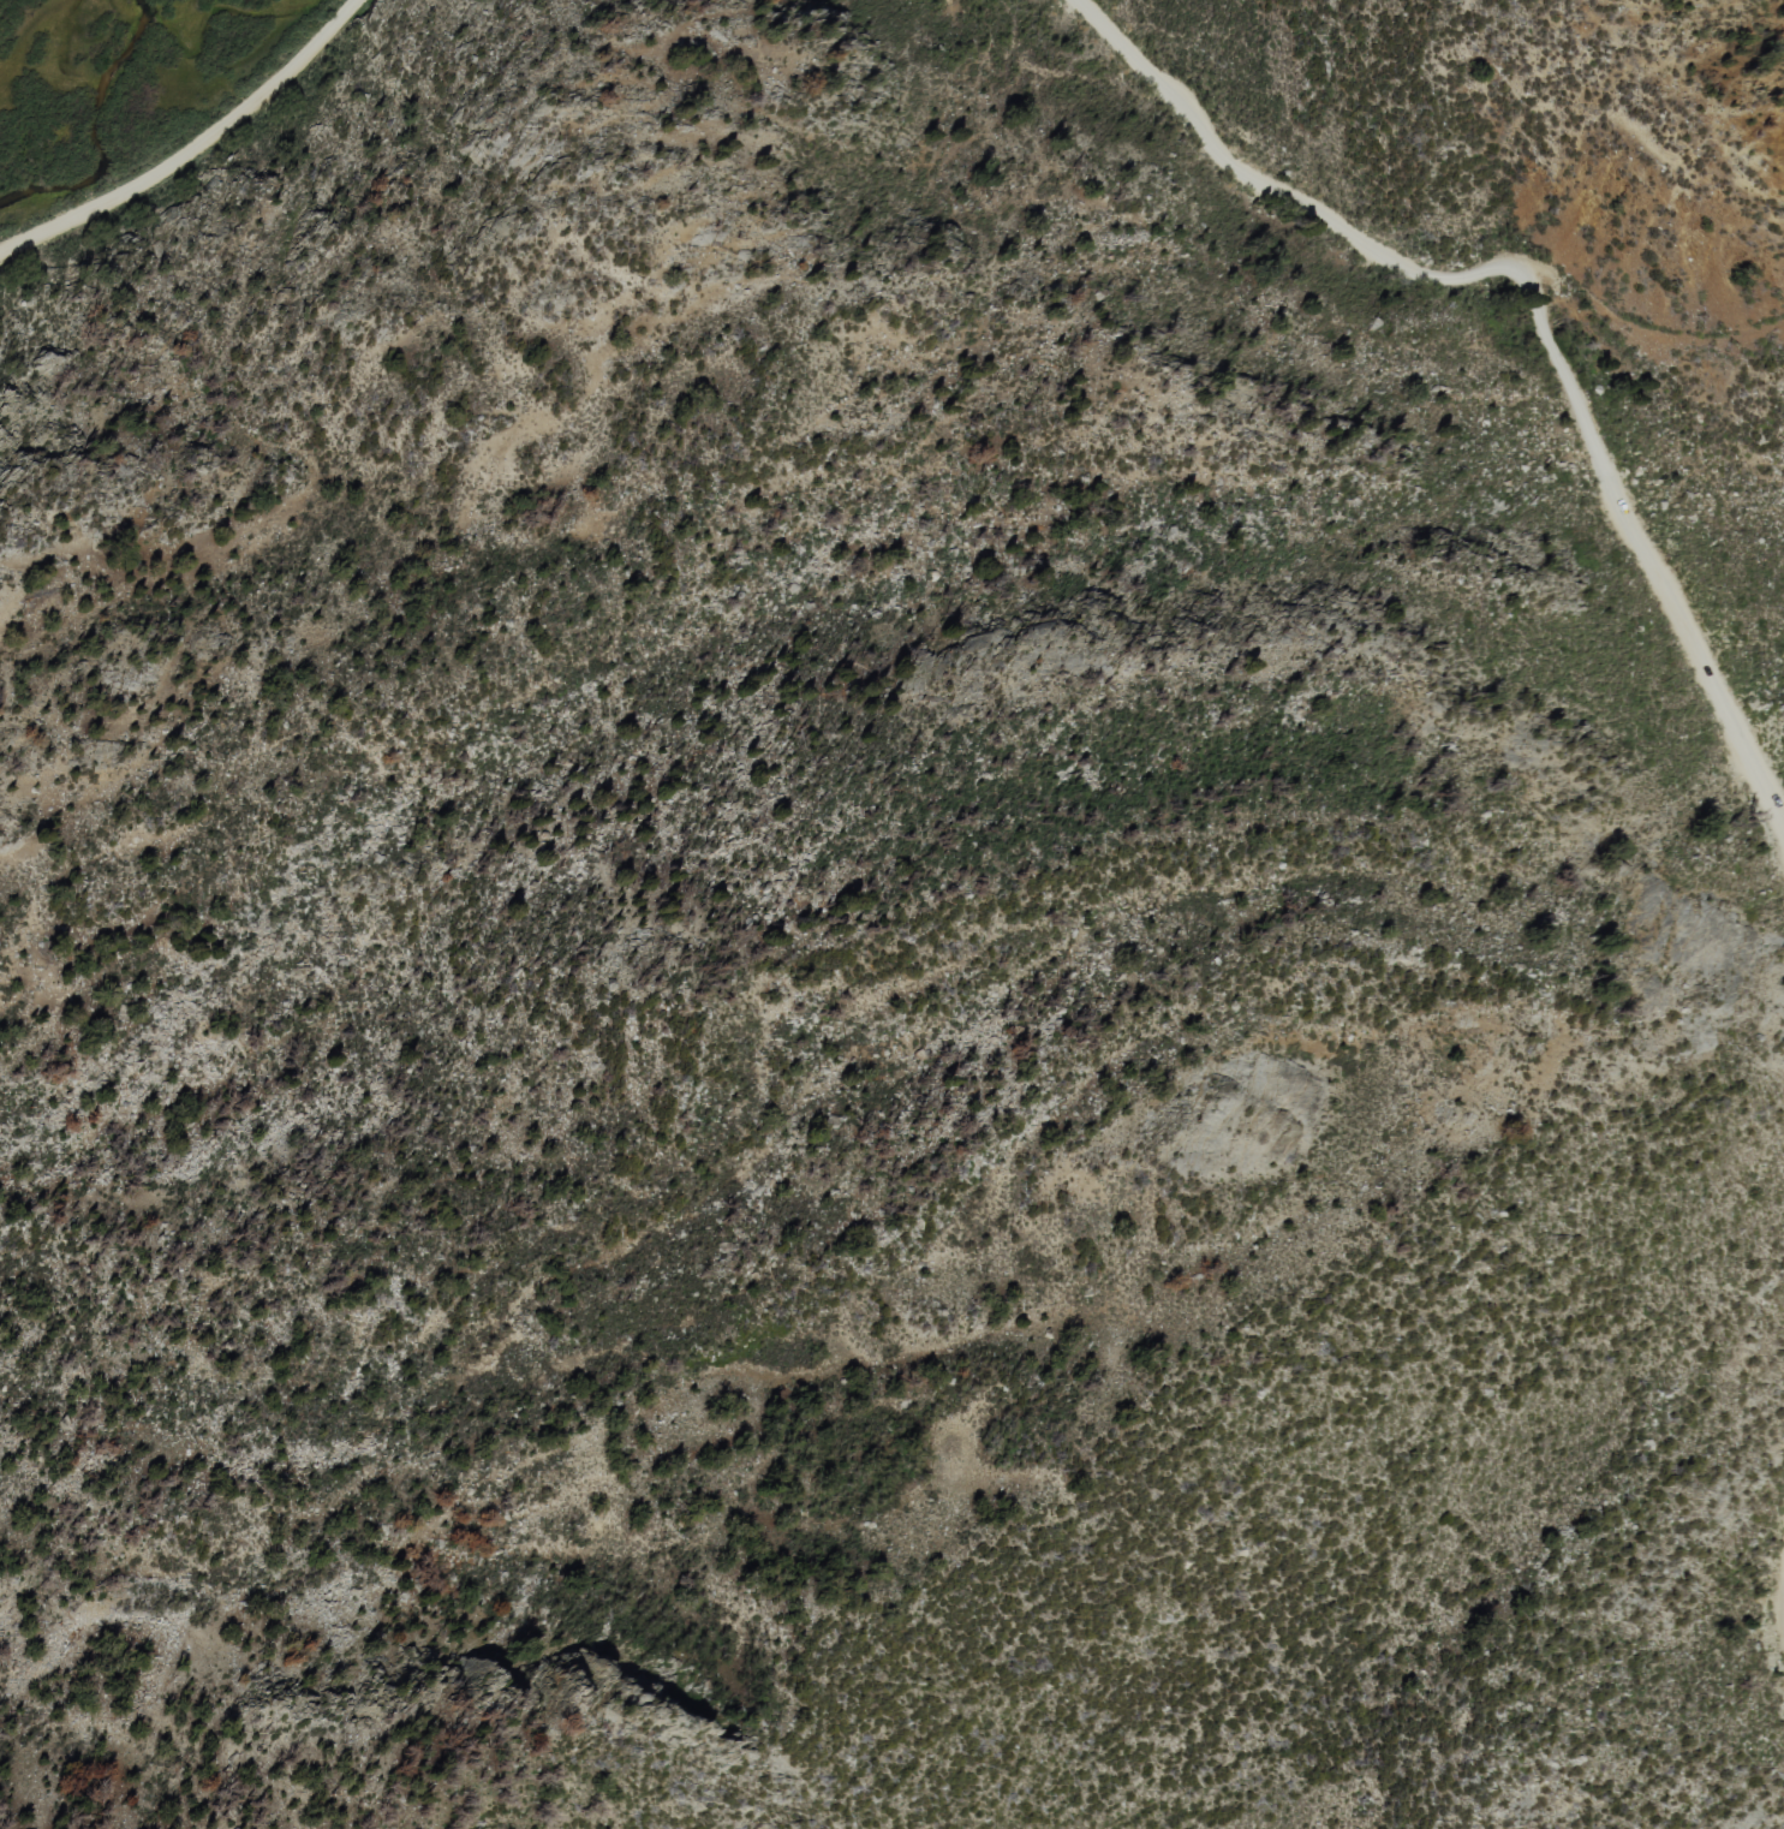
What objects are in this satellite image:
road: (196, 150)
road: (1537, 300)

